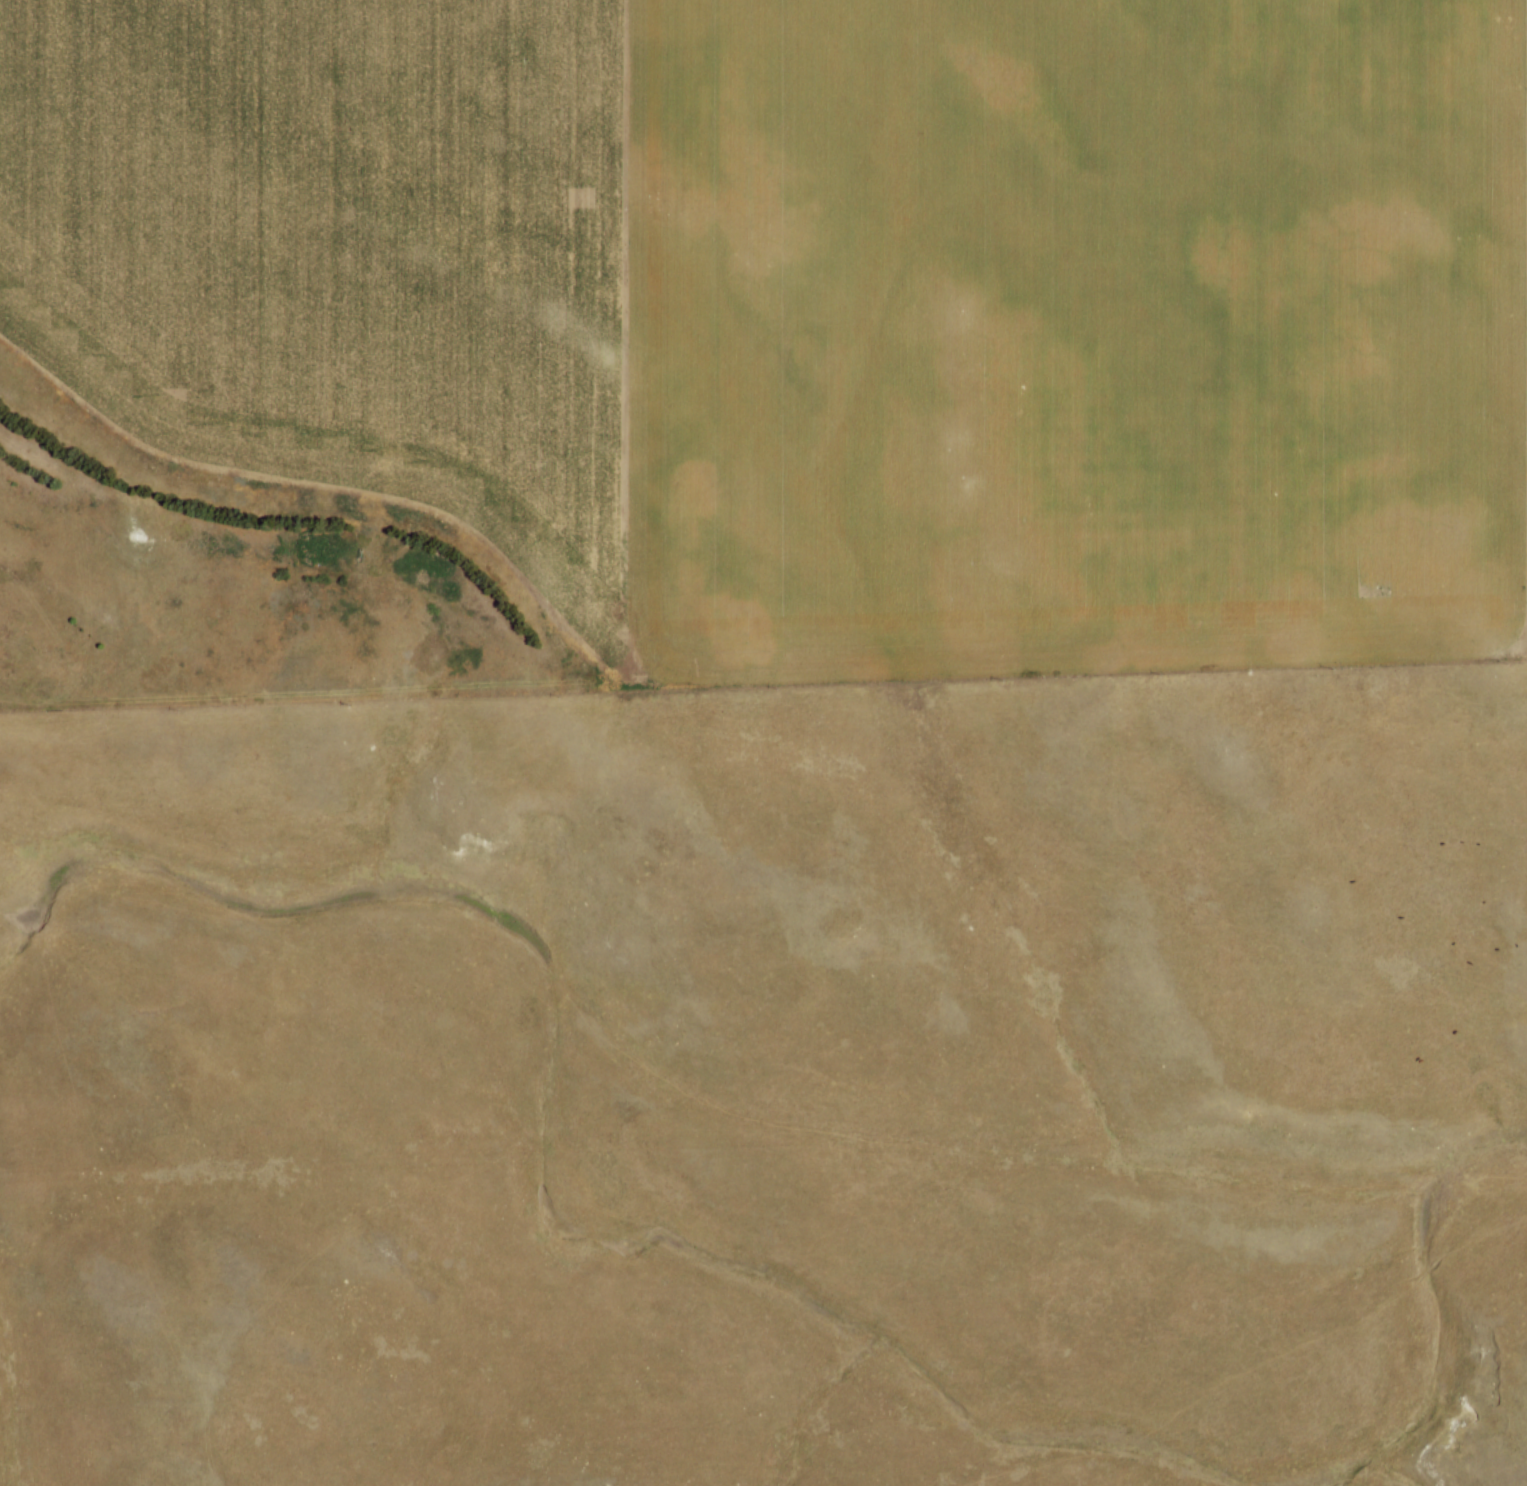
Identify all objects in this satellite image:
crop: (820, 297)

